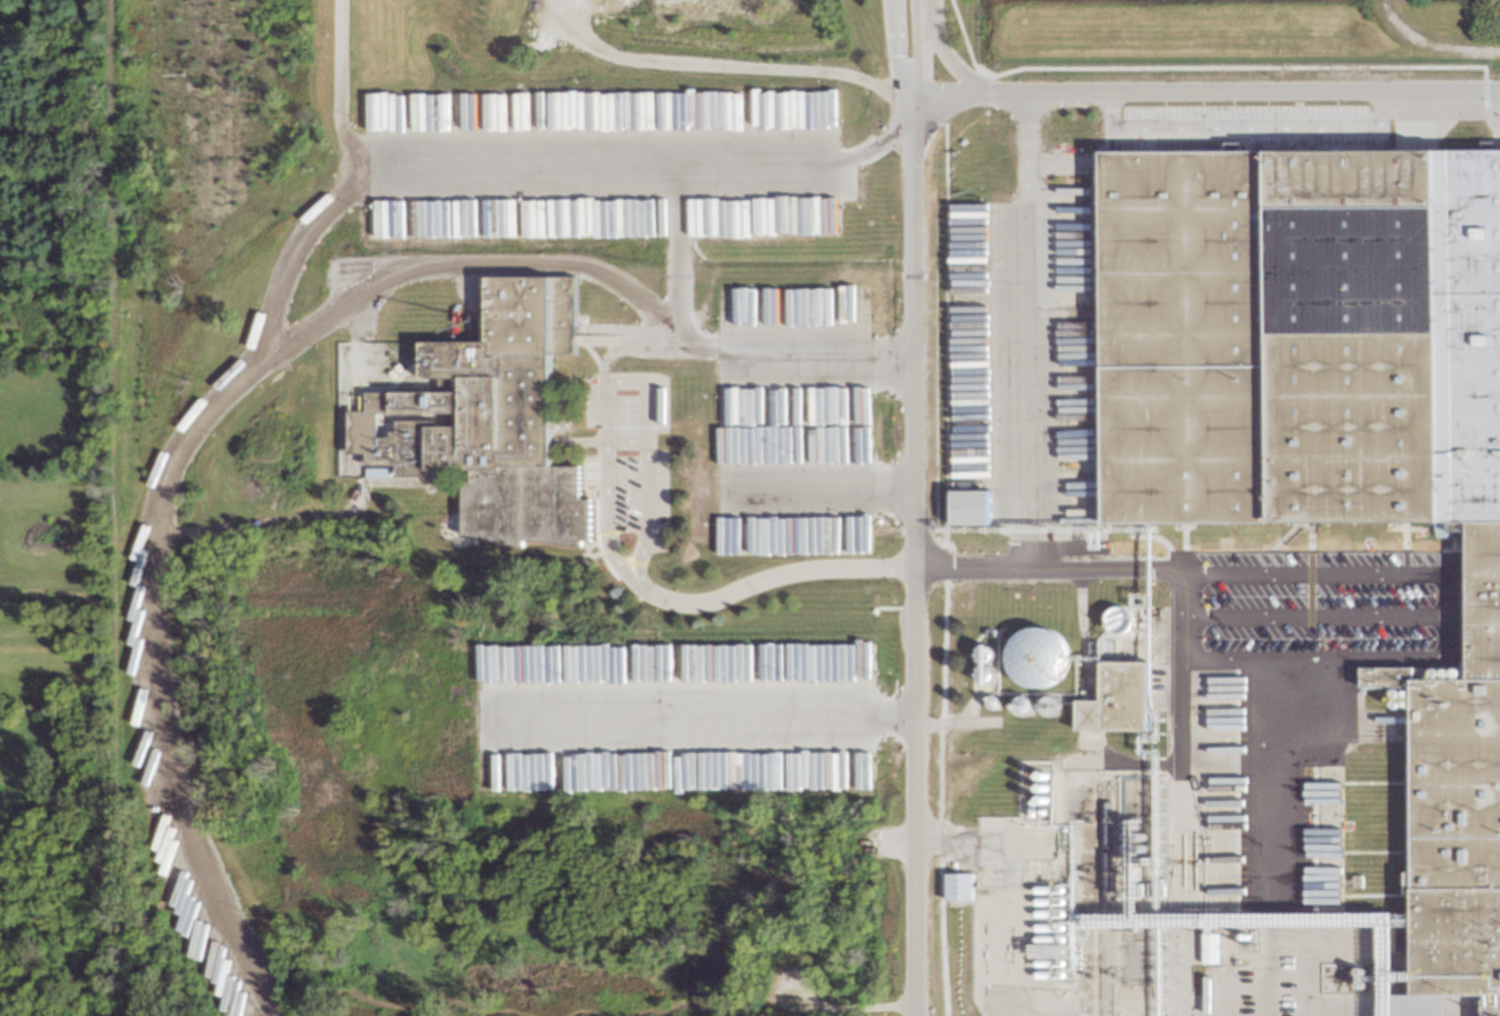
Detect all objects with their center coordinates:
road: (1429, 44)
road: (889, 57)
road: (914, 57)
road: (942, 63)
road: (720, 65)
road: (1228, 68)
road: (336, 90)
road: (1245, 129)
road: (1018, 151)
road: (530, 167)
road: (671, 249)
road: (905, 264)
road: (615, 341)
road: (616, 351)
road: (585, 355)
road: (250, 366)
road: (621, 383)
road: (1020, 391)
building: (1329, 419)
building: (489, 422)
road: (612, 444)
road: (815, 491)
building: (969, 507)
road: (261, 524)
road: (939, 533)
road: (1161, 575)
road: (1309, 615)
building: (1036, 657)
road: (1366, 659)
road: (1243, 660)
road: (1187, 685)
road: (1242, 687)
road: (1151, 689)
building: (1393, 691)
building: (1121, 700)
road: (1076, 713)
road: (695, 717)
road: (949, 725)
road: (1221, 743)
road: (1264, 851)
building: (1409, 882)
building: (957, 887)
railway: (1105, 901)
railway: (1096, 902)
road: (1242, 922)
building: (1208, 948)
road: (1224, 958)
road: (1397, 968)
road: (837, 990)

